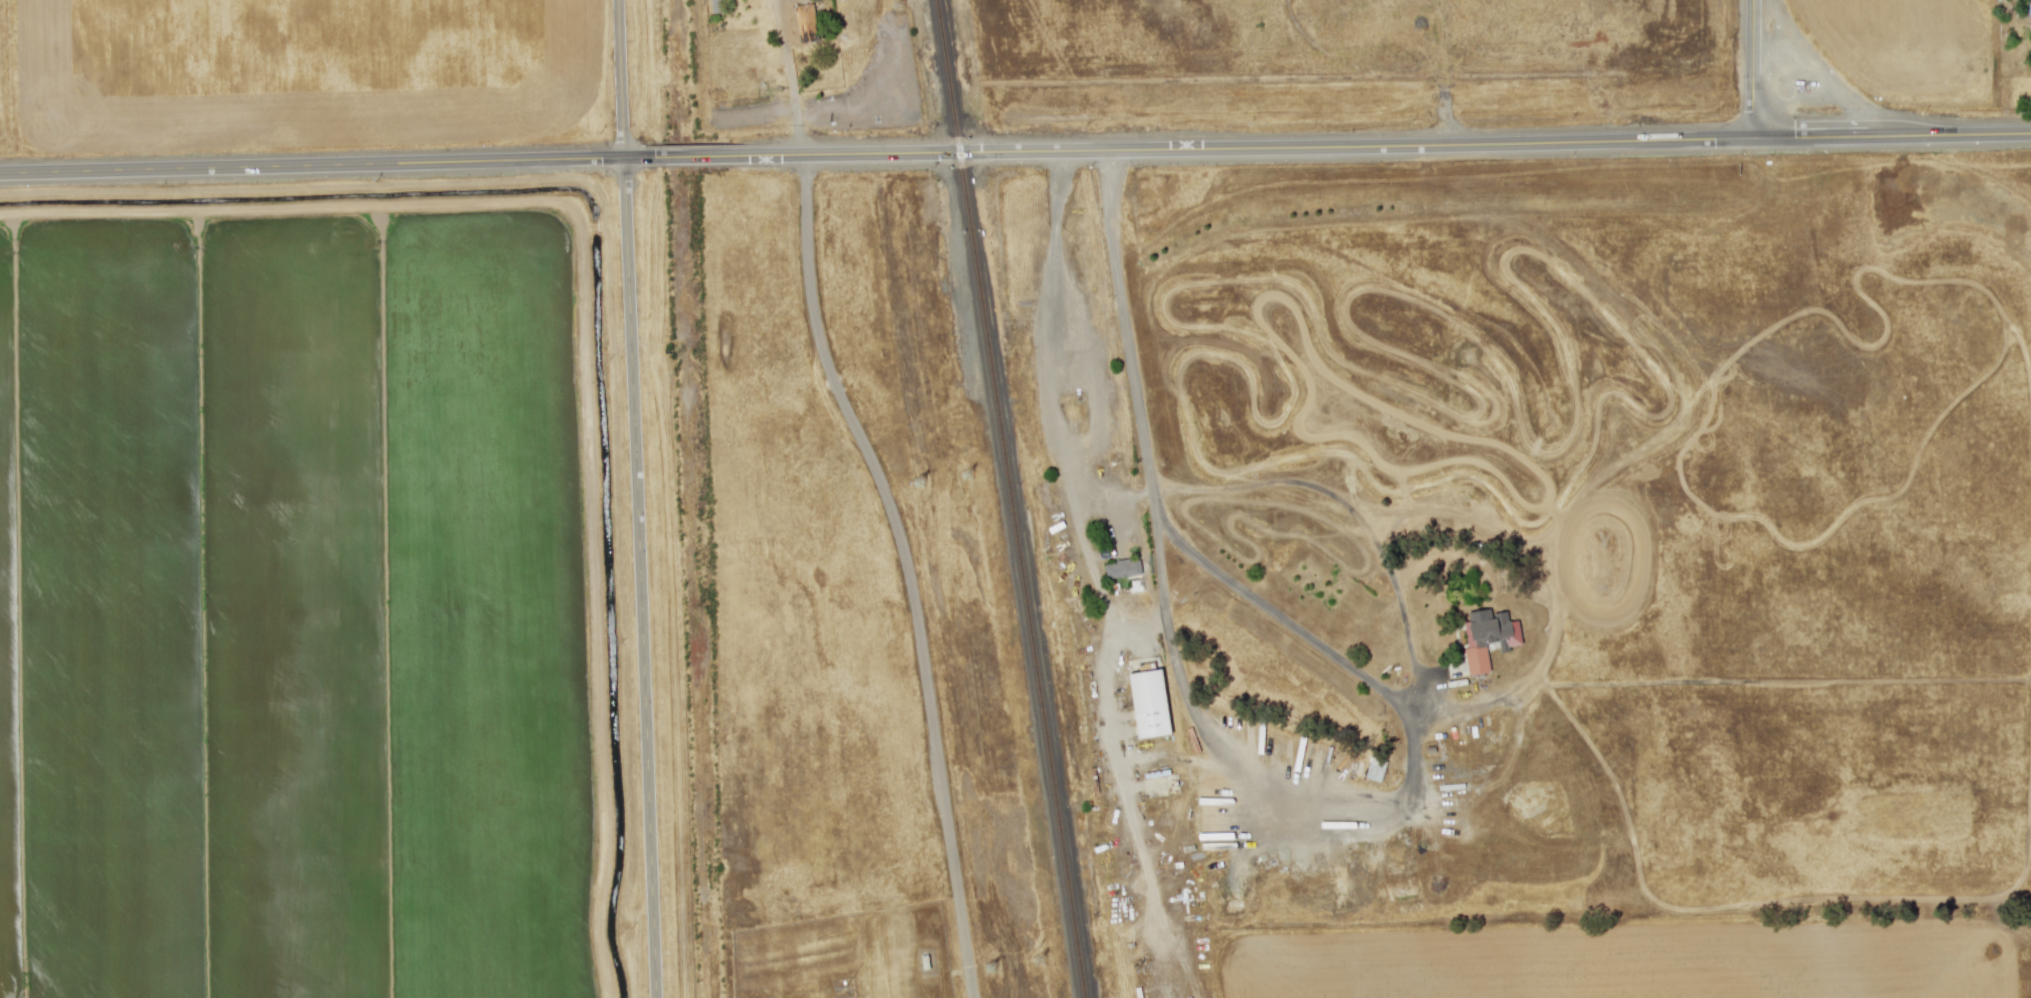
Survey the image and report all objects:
power tower: (910, 4)
building: (714, 6)
power tower: (851, 13)
road: (1753, 69)
road: (1444, 73)
road: (790, 76)
road: (1015, 152)
power tower: (970, 476)
power tower: (921, 484)
road: (637, 498)
railway: (1015, 498)
road: (909, 568)
building: (1121, 568)
road: (1092, 577)
road: (1140, 621)
building: (1487, 637)
building: (1148, 704)
building: (1374, 770)
power tower: (1043, 962)
power tower: (993, 970)

